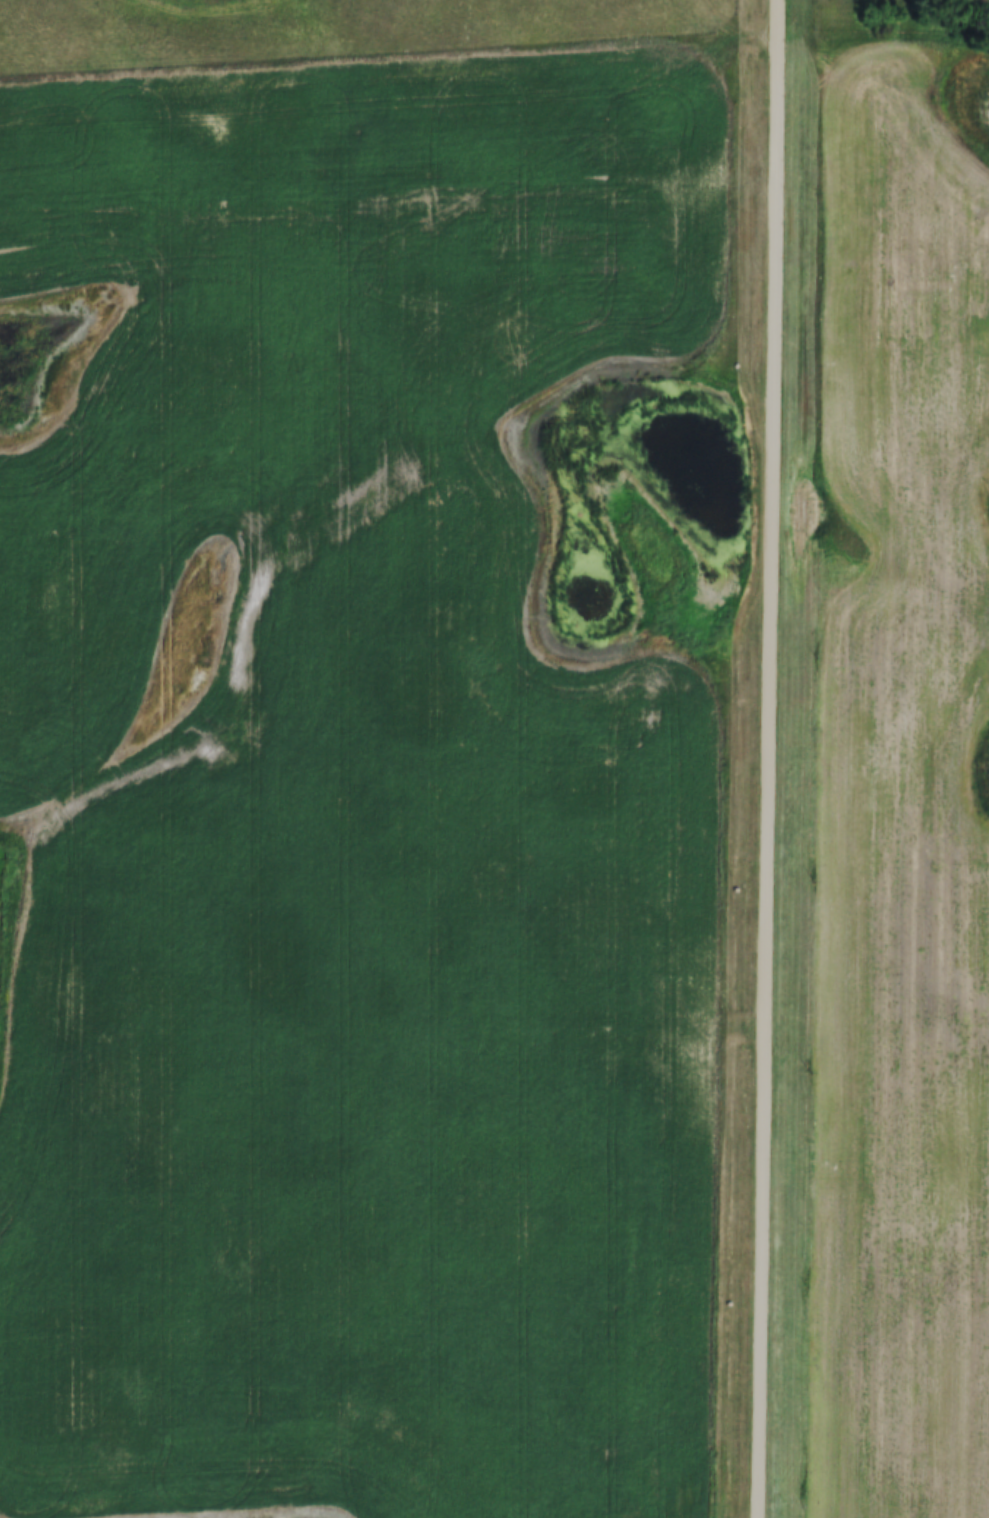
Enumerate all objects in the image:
road: (772, 759)

